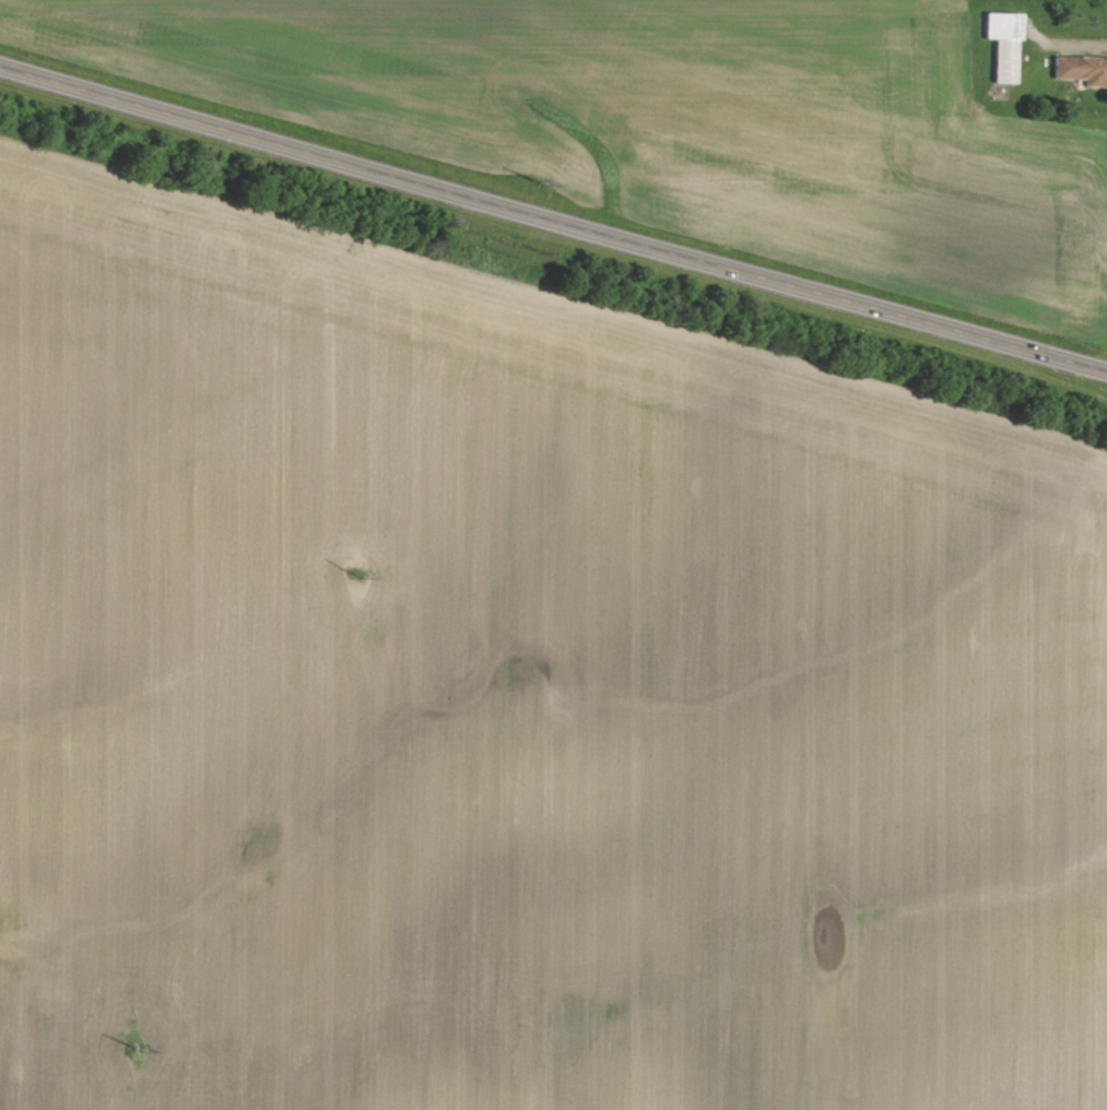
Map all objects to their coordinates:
building: (1003, 46)
building: (1081, 71)
power tower: (541, 185)
road: (552, 221)
power tower: (355, 575)
power tower: (138, 1051)

